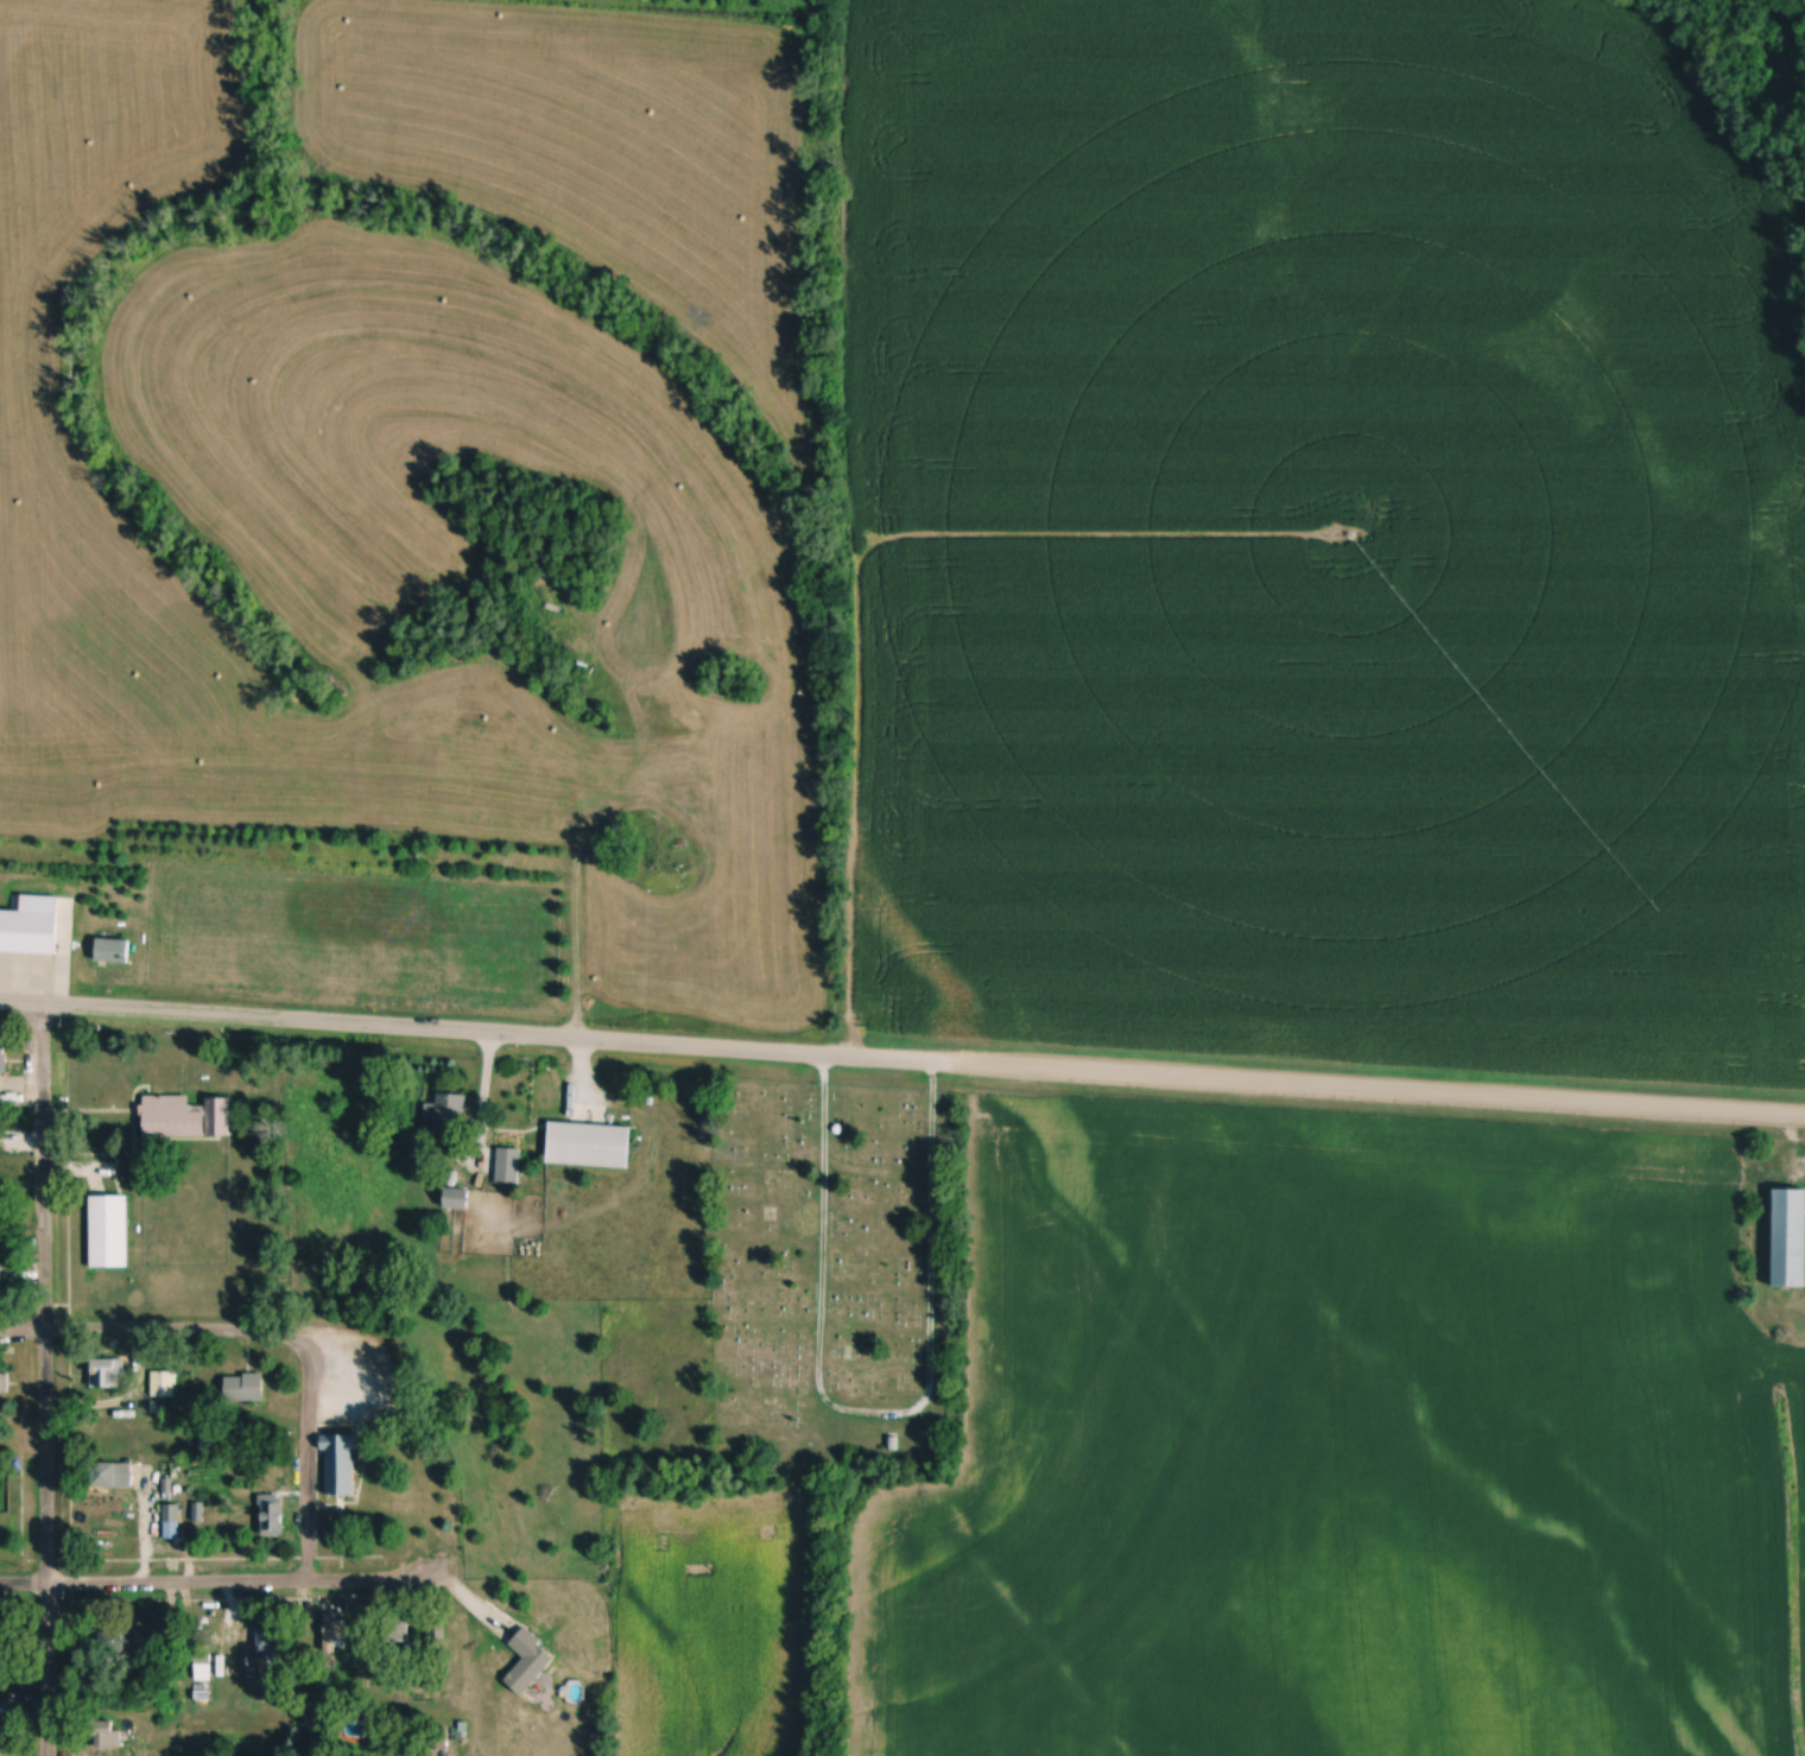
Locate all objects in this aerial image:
river: (1798, 9)
building: (27, 933)
building: (113, 952)
road: (851, 1059)
building: (2, 1069)
building: (451, 1115)
road: (1754, 1116)
building: (186, 1118)
road: (1790, 1135)
building: (589, 1147)
building: (508, 1167)
building: (457, 1199)
building: (109, 1232)
building: (1790, 1240)
park: (837, 1262)
building: (0, 1275)
road: (138, 1331)
building: (108, 1375)
road: (44, 1381)
building: (164, 1384)
building: (245, 1389)
road: (872, 1412)
road: (306, 1454)
building: (341, 1467)
building: (112, 1477)
building: (272, 1516)
road: (218, 1587)
building: (121, 1647)
building: (268, 1647)
building: (530, 1663)
building: (203, 1671)
building: (4, 1736)
building: (106, 1736)

